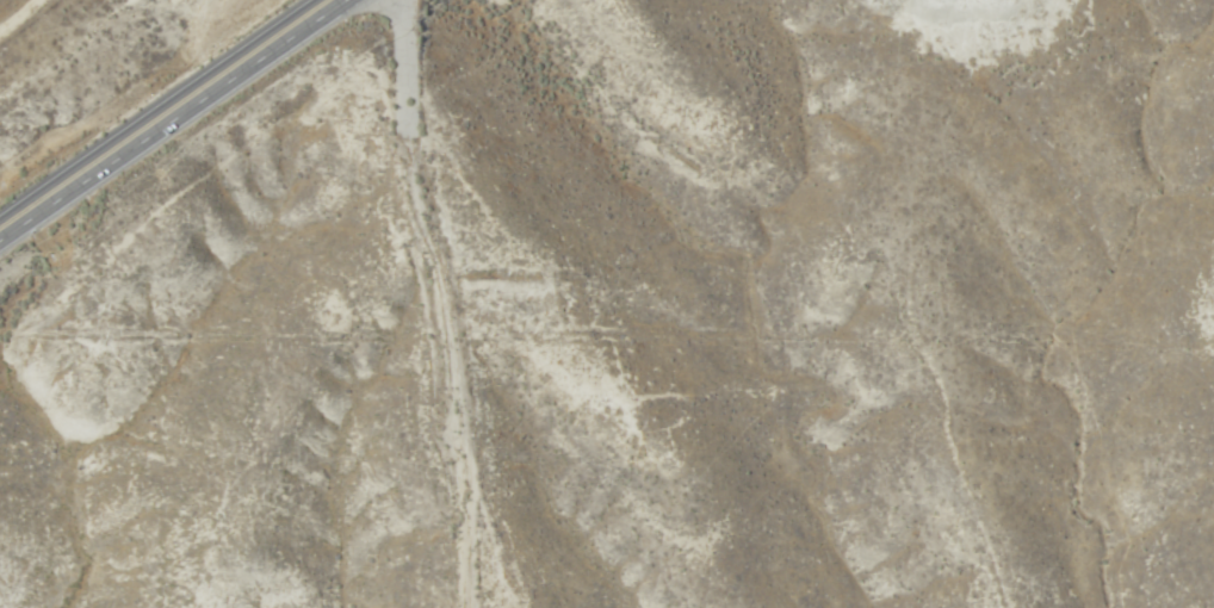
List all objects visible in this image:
road: (165, 116)
road: (467, 297)
crop: (692, 339)

